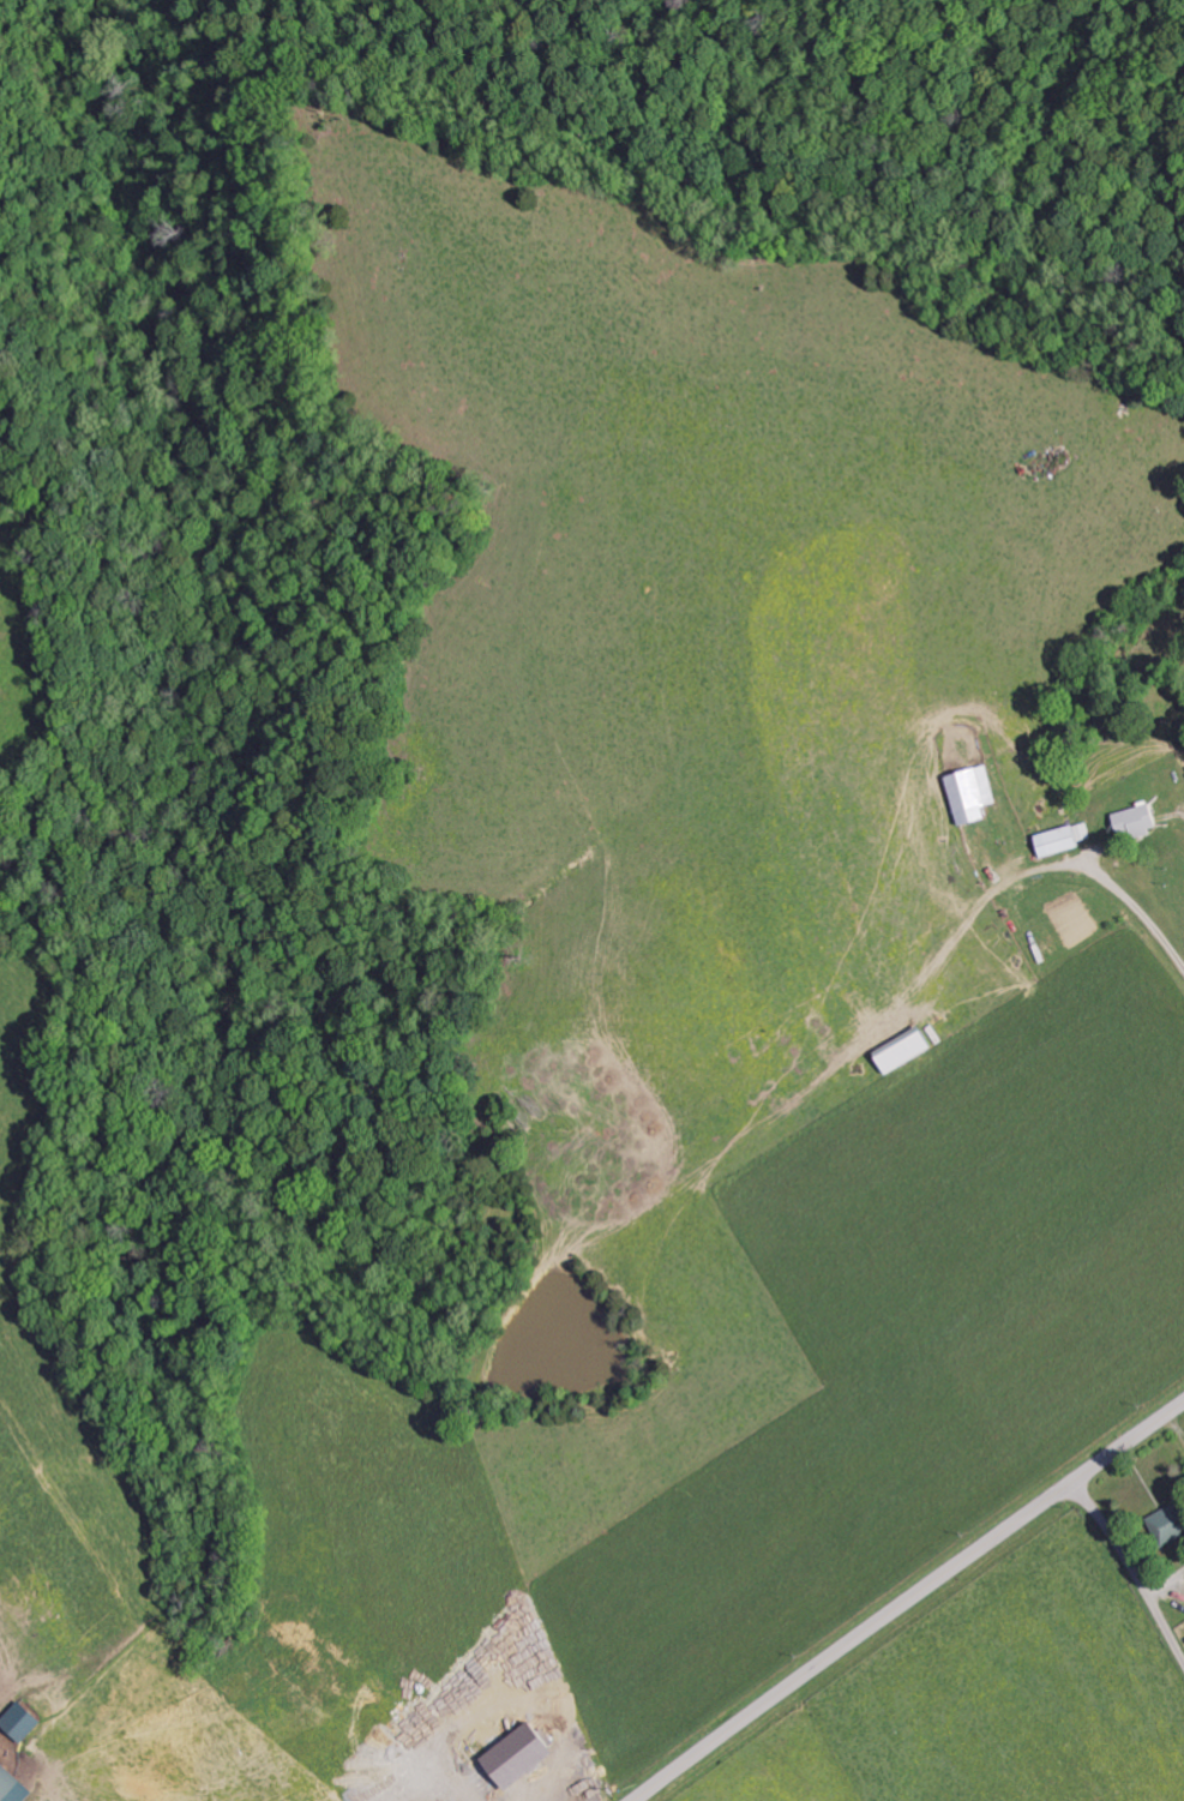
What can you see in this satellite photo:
building: (966, 793)
building: (1134, 821)
road: (1162, 960)
road: (1132, 1569)
road: (907, 1599)
building: (16, 1721)
building: (510, 1754)
building: (10, 1788)

